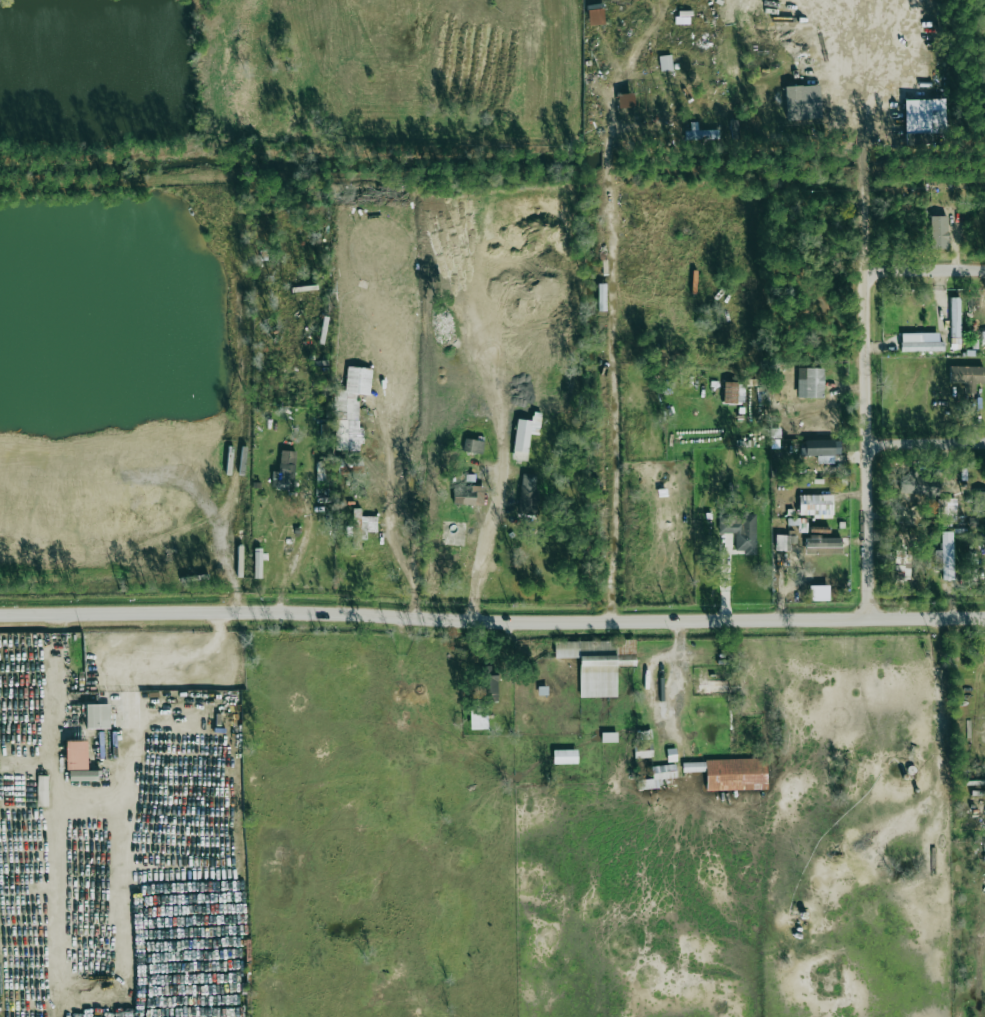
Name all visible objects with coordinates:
building: (595, 14)
building: (665, 63)
building: (626, 101)
building: (802, 103)
road: (866, 108)
building: (924, 115)
building: (700, 133)
building: (938, 232)
road: (927, 268)
building: (601, 297)
building: (955, 317)
building: (983, 337)
road: (607, 339)
building: (918, 343)
building: (966, 376)
building: (810, 382)
building: (733, 392)
building: (349, 402)
road: (869, 405)
road: (927, 442)
building: (473, 446)
building: (821, 449)
building: (284, 471)
building: (322, 473)
building: (919, 486)
building: (468, 494)
building: (528, 494)
building: (979, 501)
building: (815, 505)
building: (360, 527)
building: (740, 530)
road: (221, 535)
building: (784, 542)
road: (480, 543)
building: (823, 545)
building: (945, 556)
building: (257, 563)
road: (492, 621)
building: (598, 663)
building: (490, 684)
building: (711, 686)
building: (97, 716)
building: (75, 755)
building: (565, 756)
building: (730, 773)
building: (82, 775)
building: (658, 776)
building: (42, 791)

